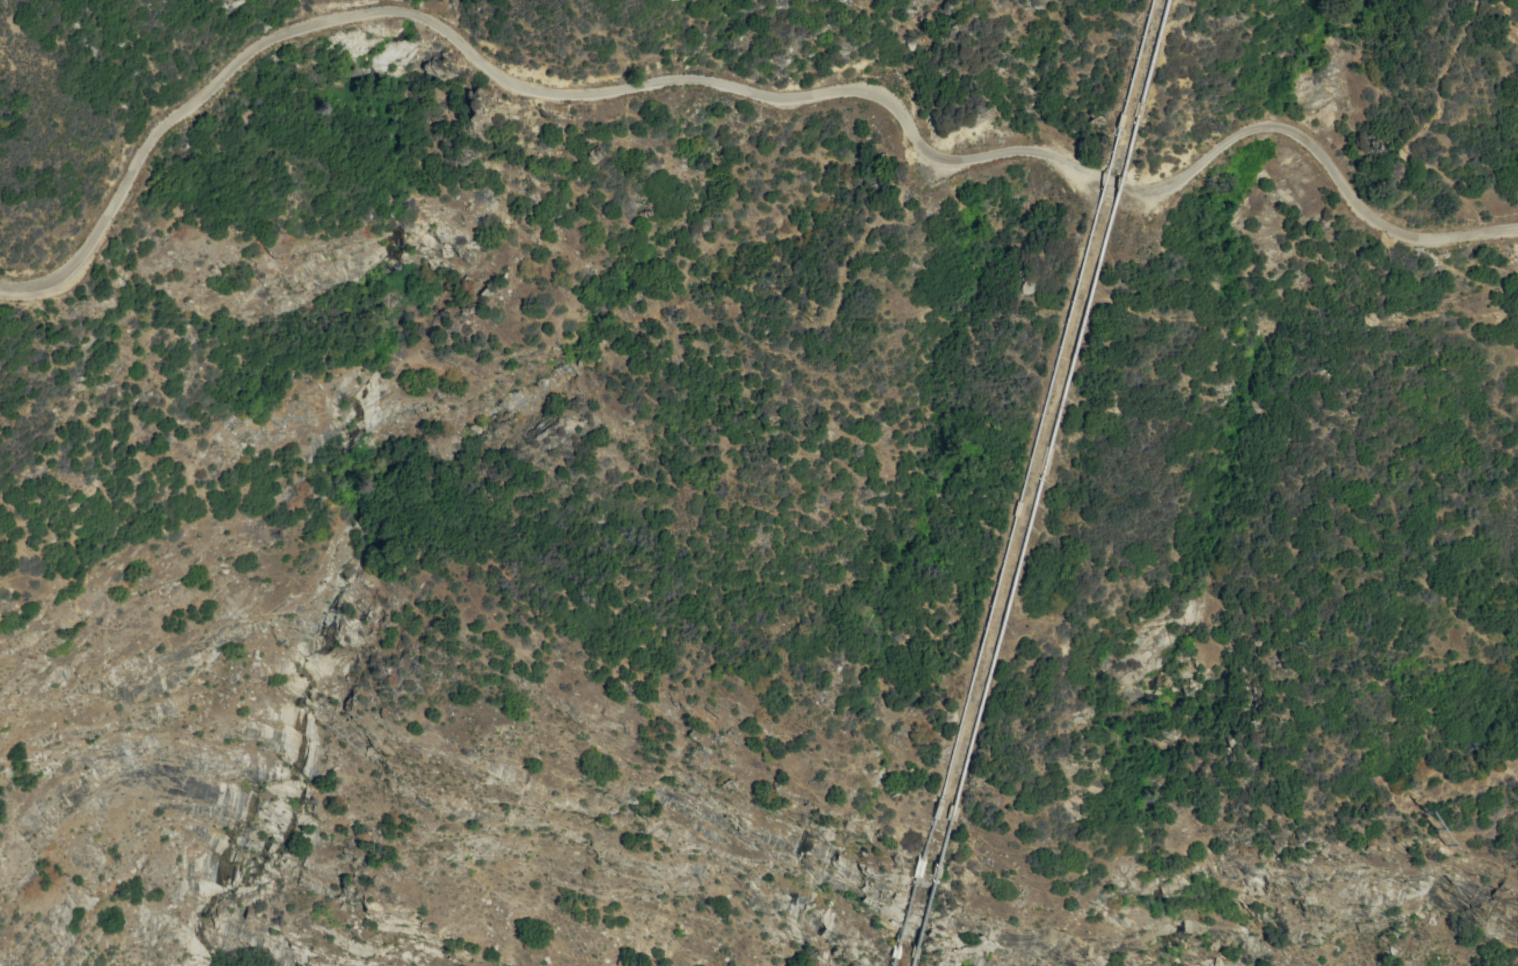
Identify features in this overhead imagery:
road: (740, 86)
power tower: (1432, 825)

